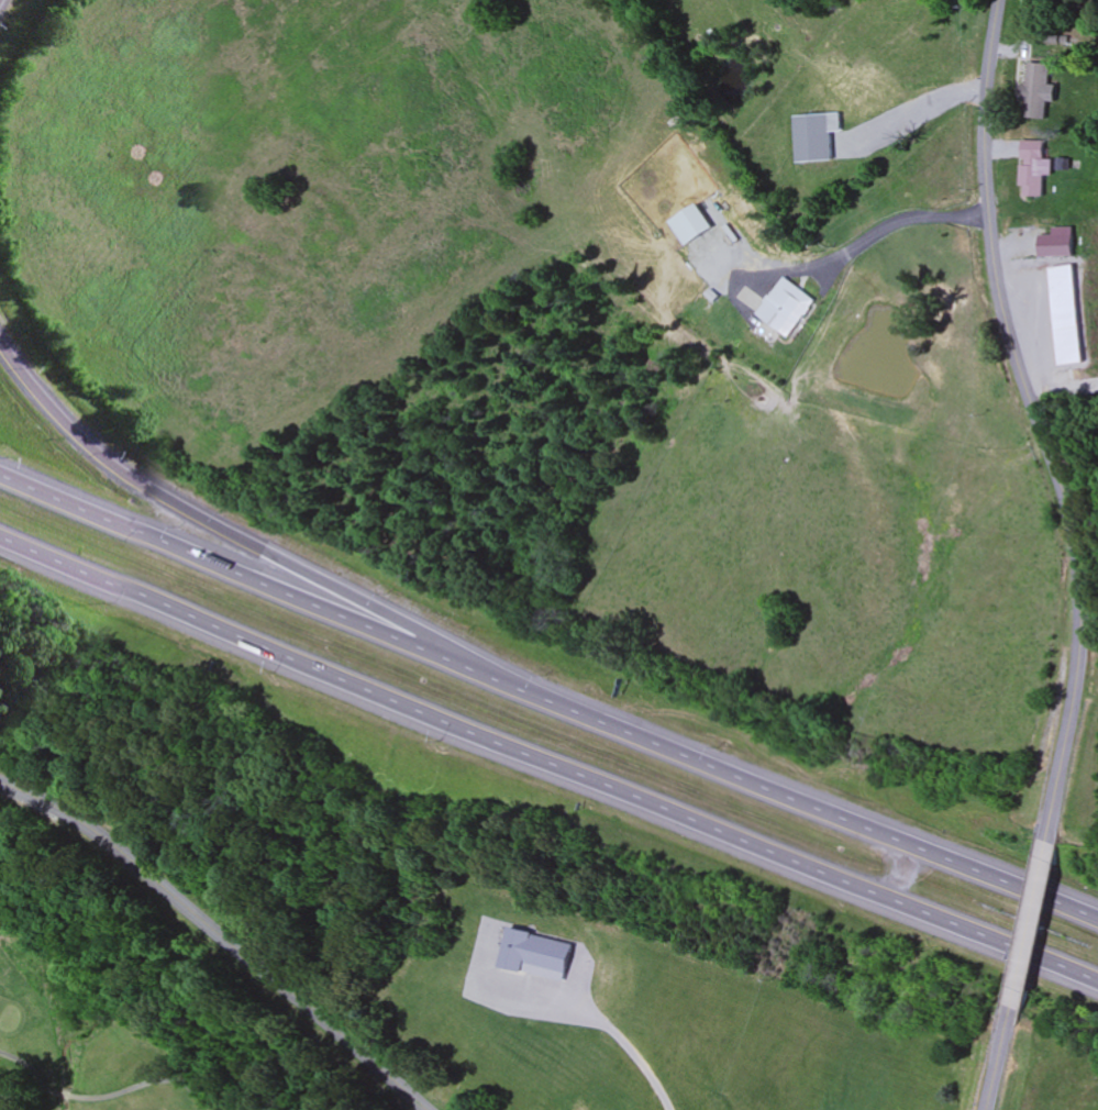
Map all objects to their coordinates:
building: (1041, 86)
road: (1043, 93)
building: (1033, 169)
building: (1060, 244)
building: (780, 309)
building: (1069, 317)
road: (1039, 422)
road: (246, 546)
road: (265, 586)
road: (548, 764)
road: (814, 807)
road: (1024, 926)
road: (221, 934)
park: (120, 1023)
park: (120, 1023)
road: (996, 1059)

